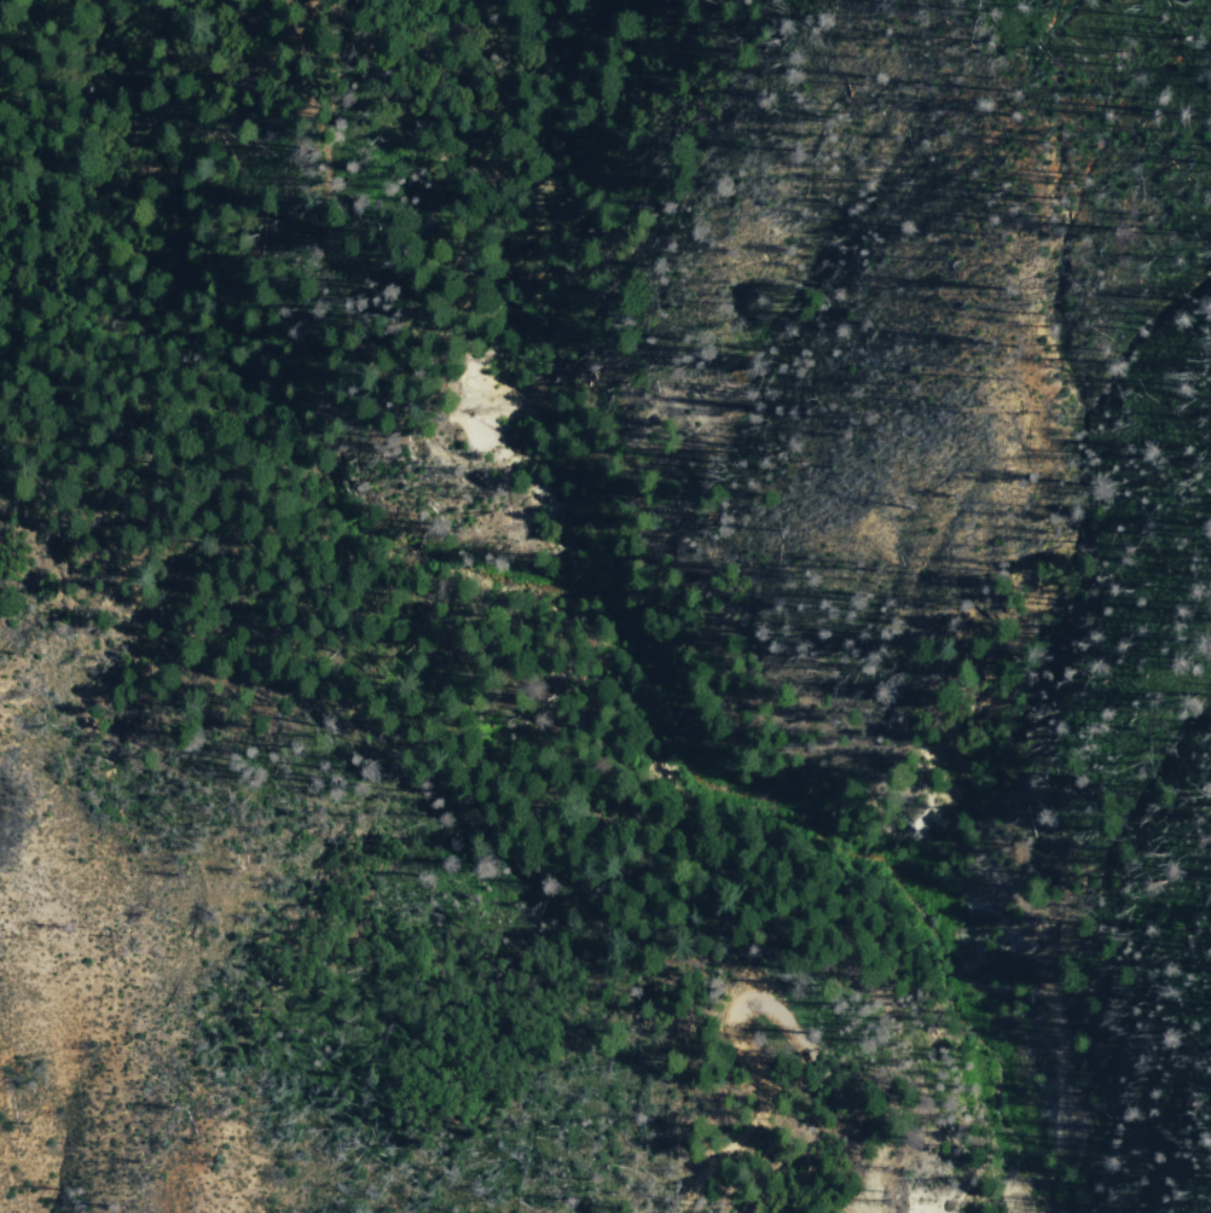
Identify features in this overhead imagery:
road: (752, 1011)

